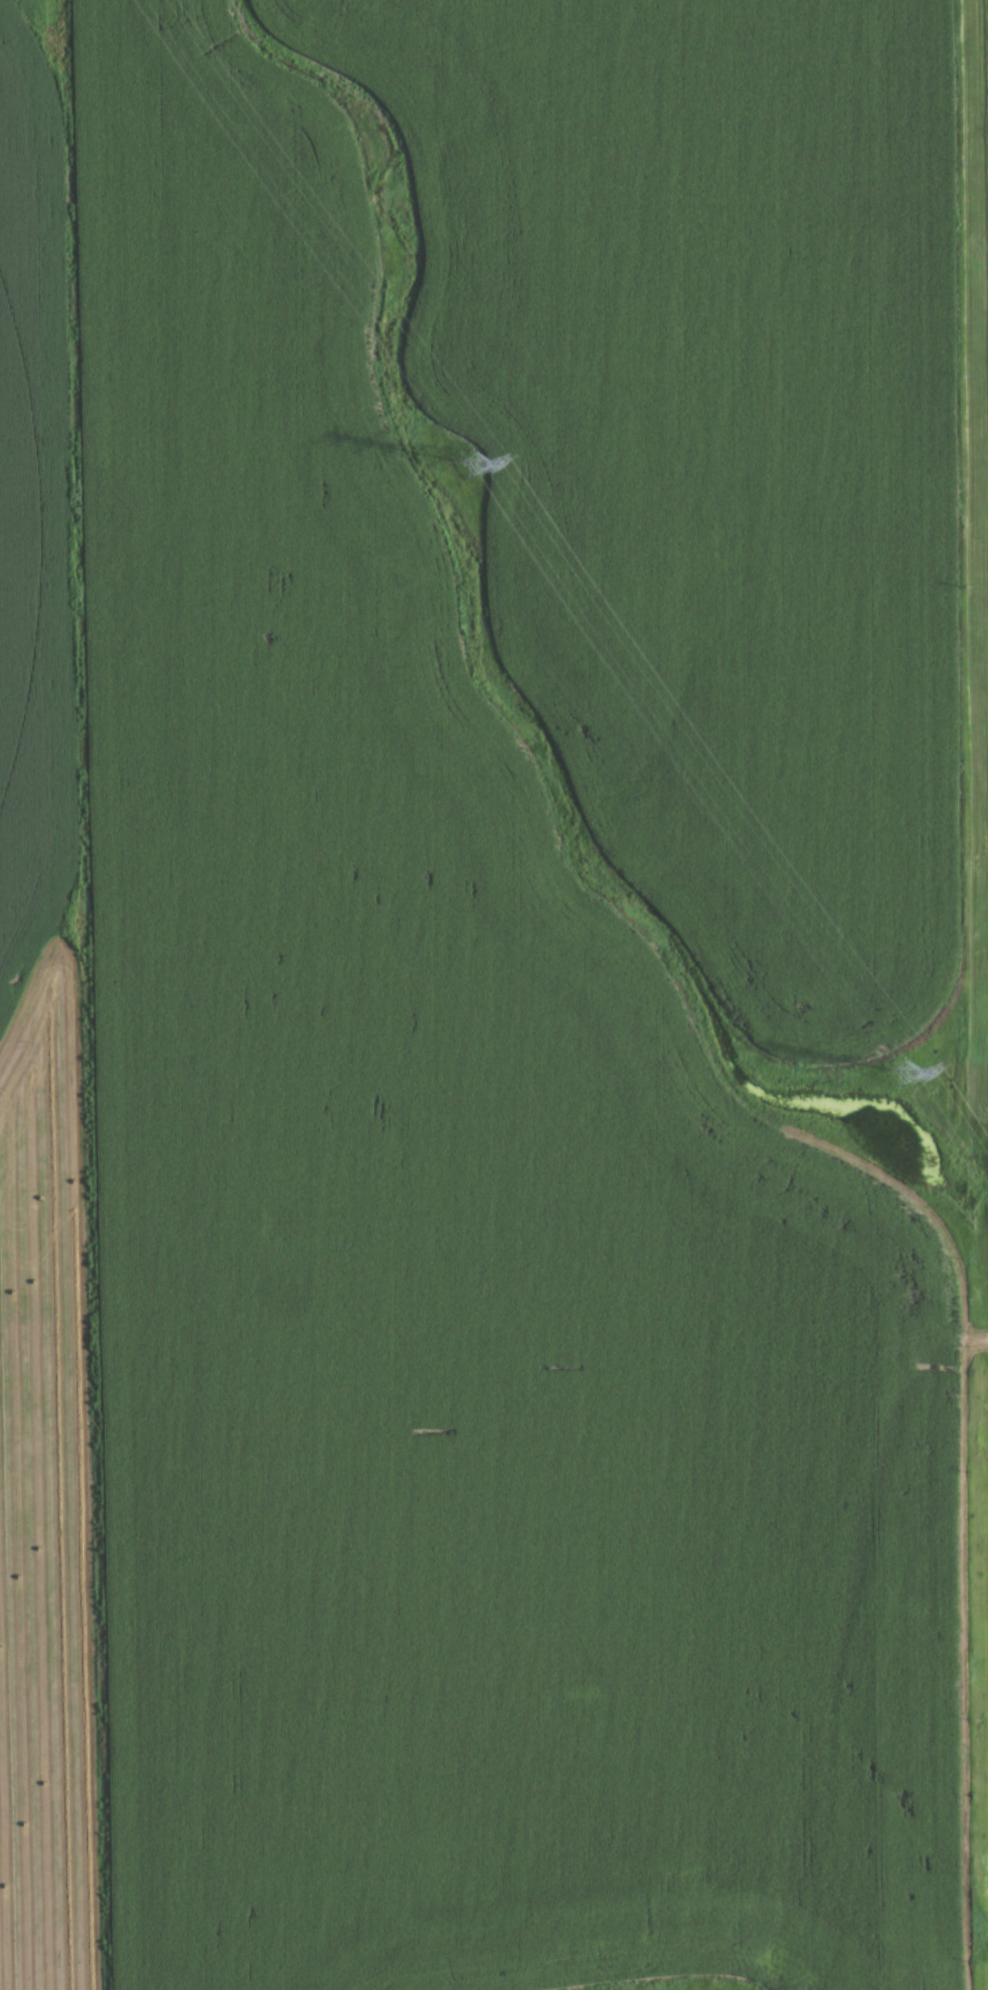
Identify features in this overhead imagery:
power tower: (467, 465)
power tower: (898, 1074)

